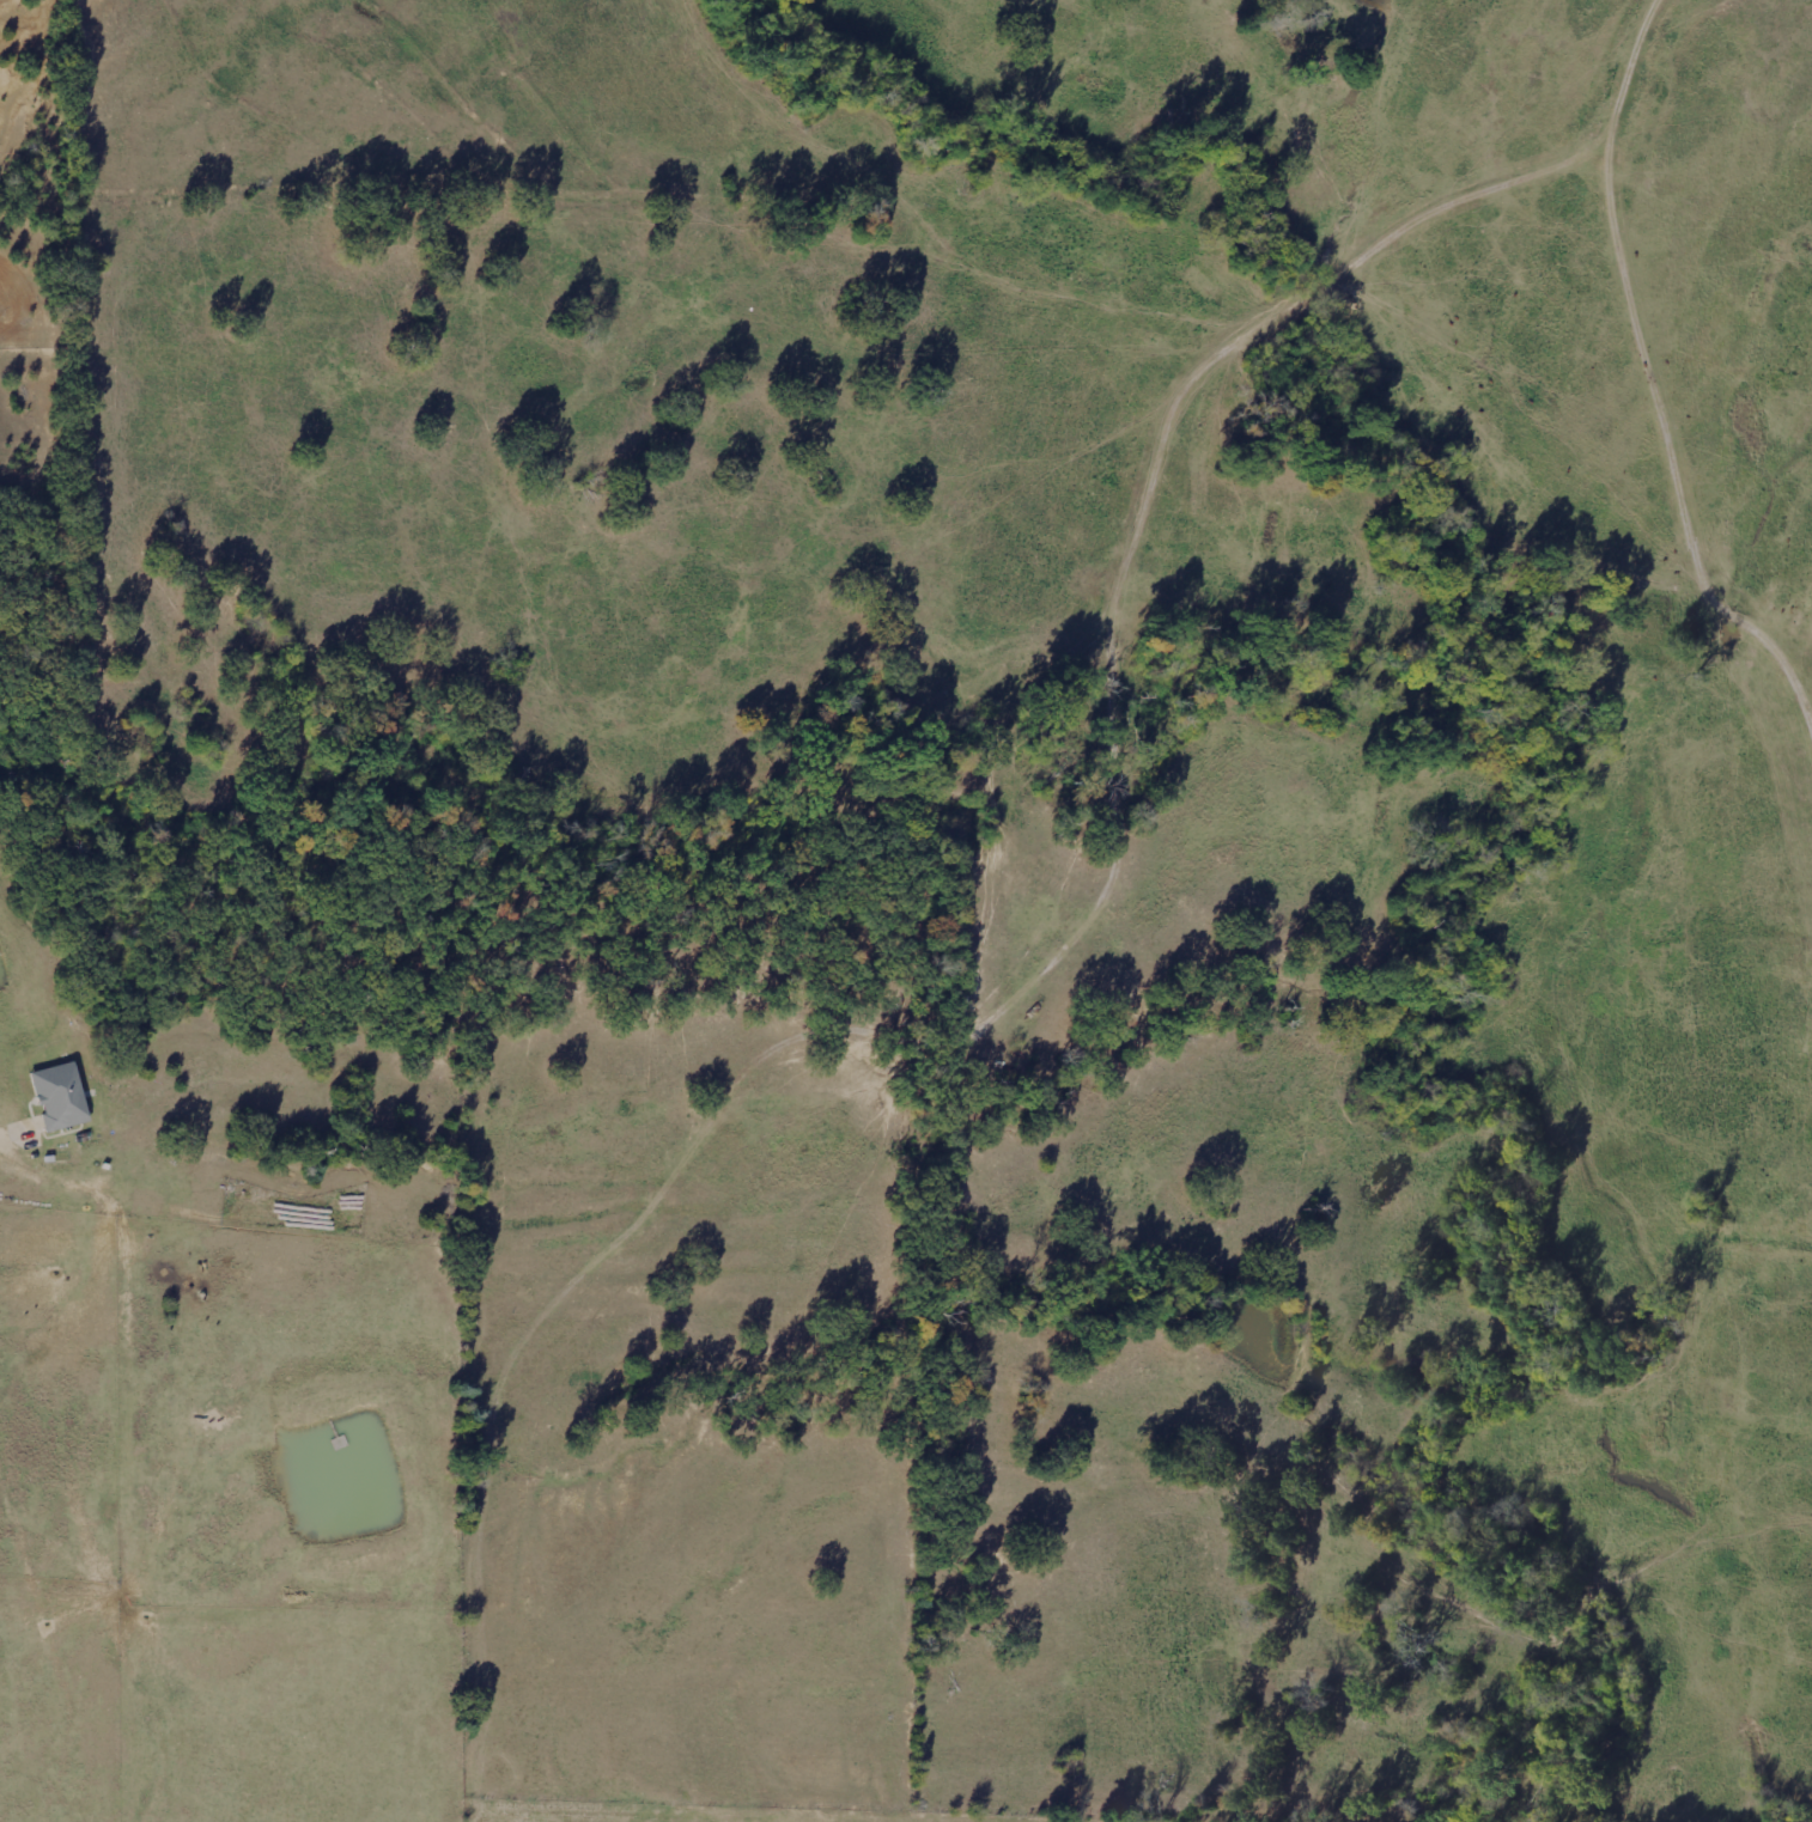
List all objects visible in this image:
building: (59, 1098)

